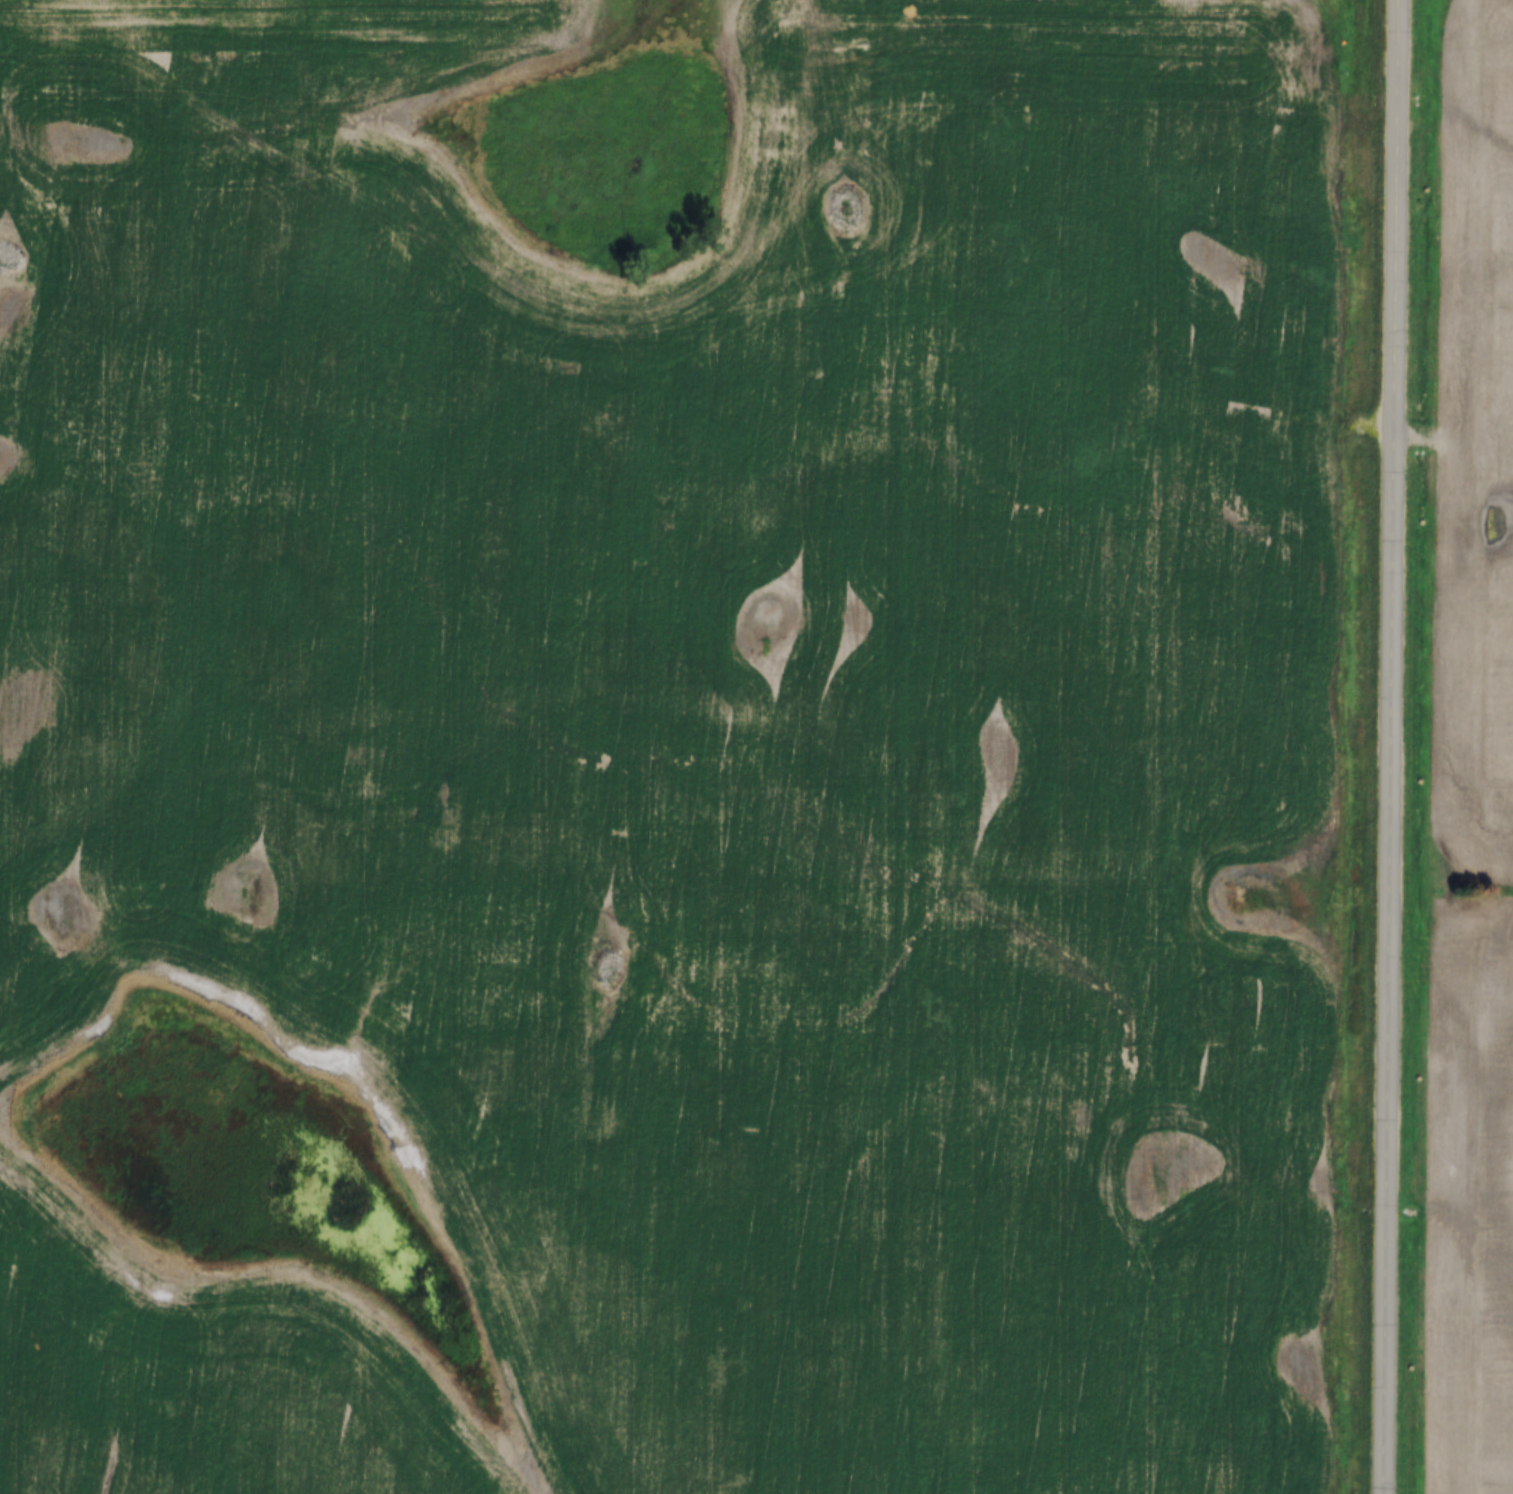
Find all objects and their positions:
road: (1390, 746)

